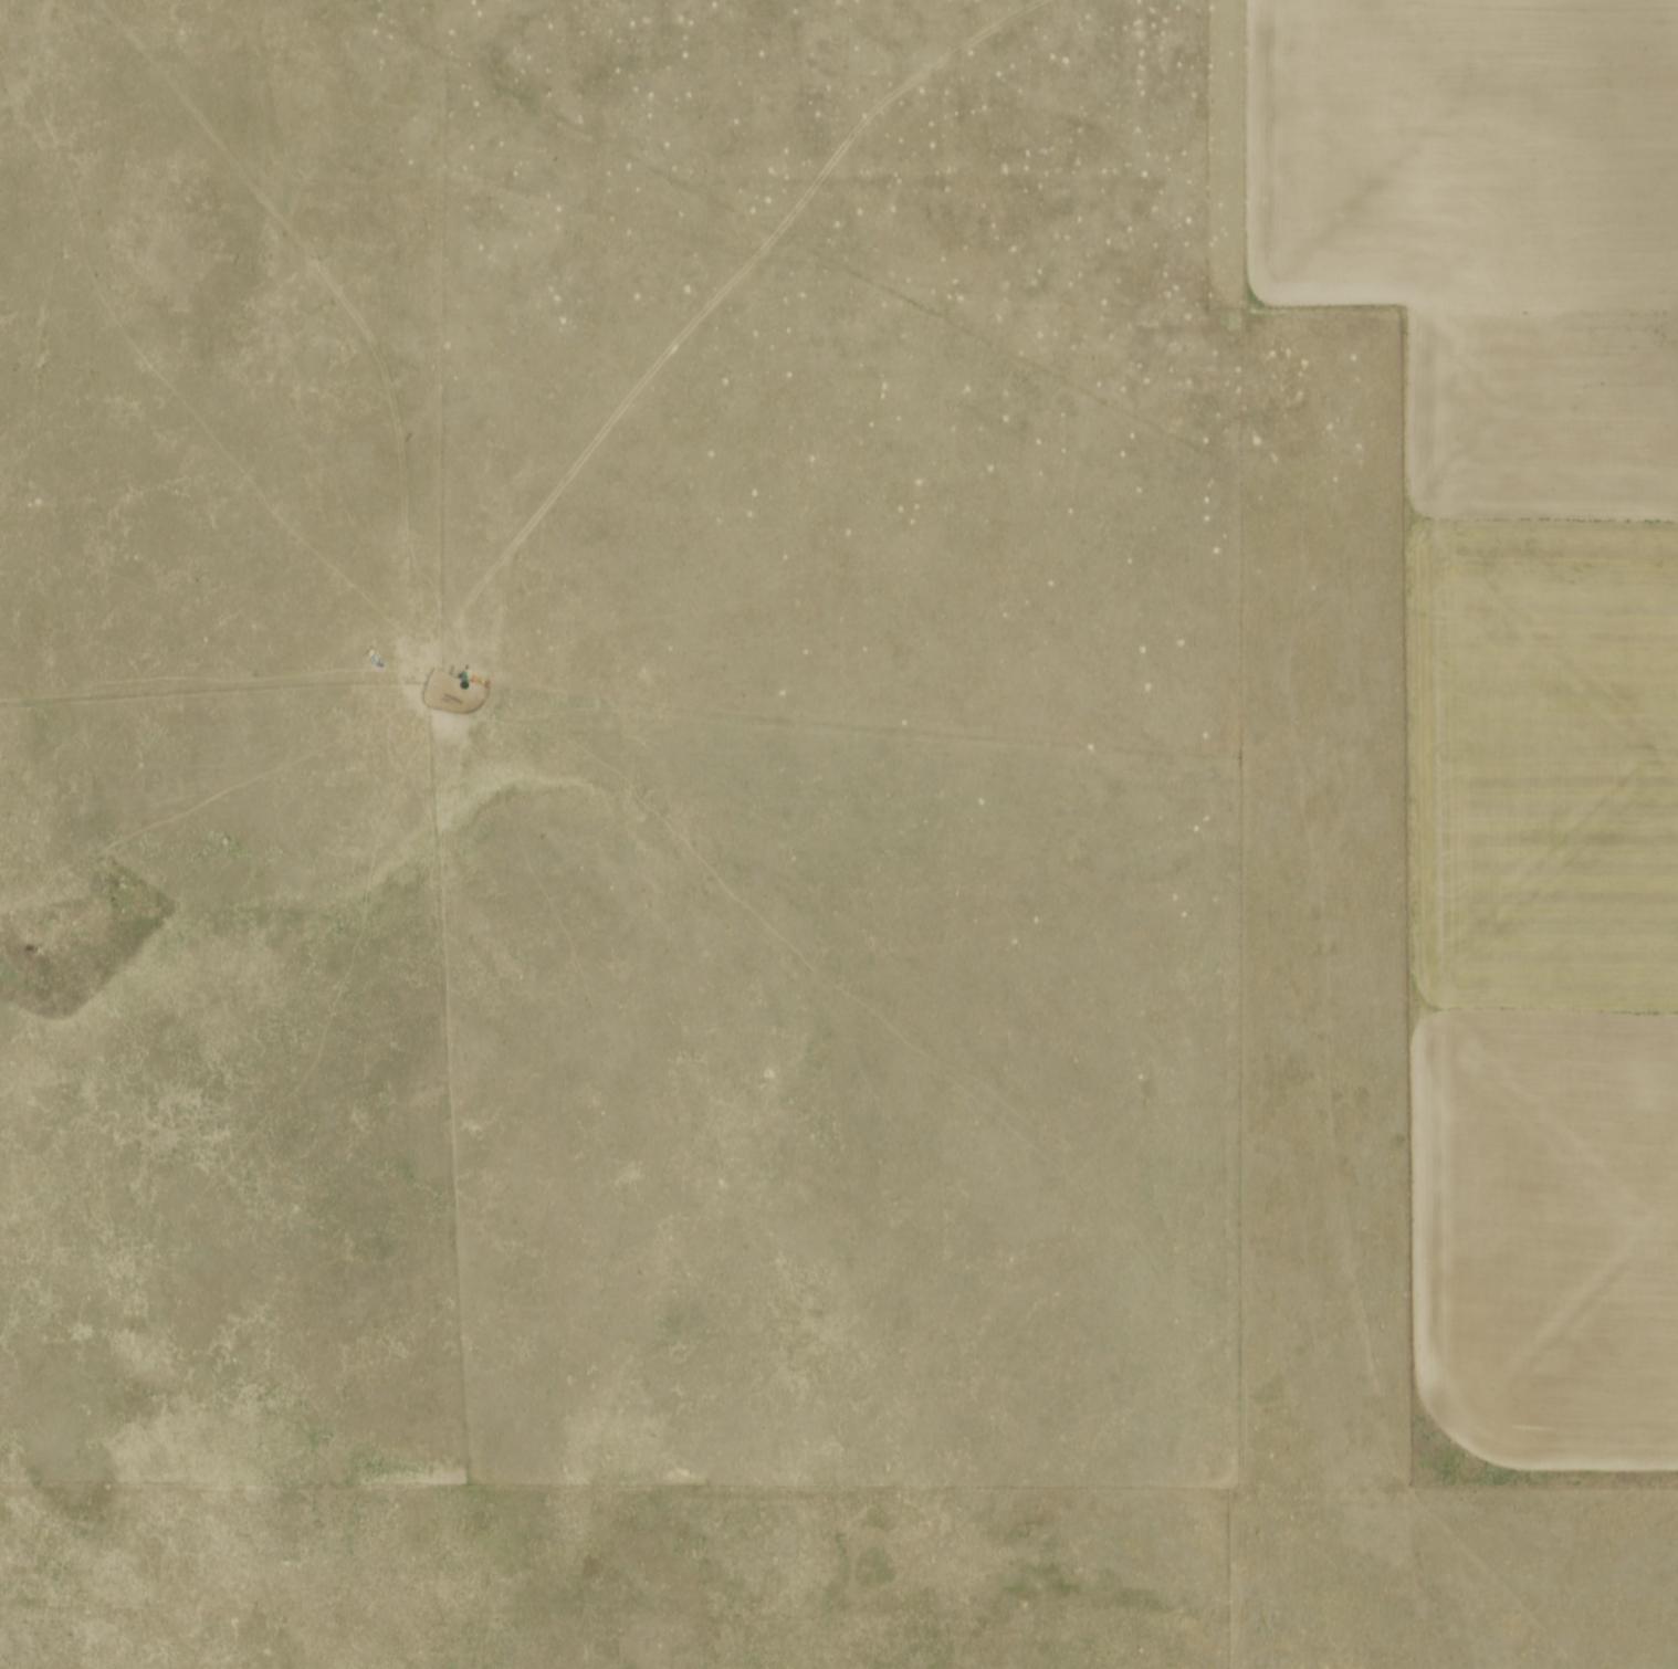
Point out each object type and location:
crop: (1459, 156)

